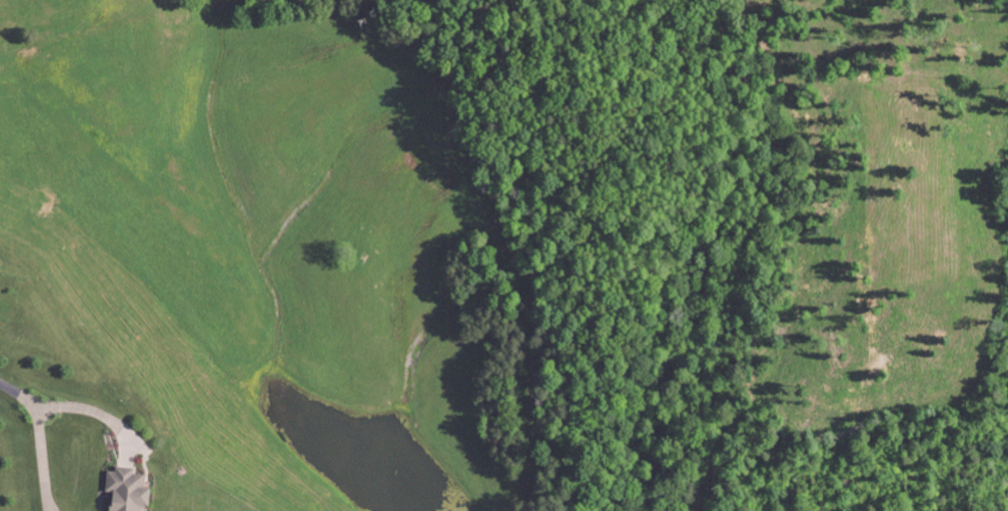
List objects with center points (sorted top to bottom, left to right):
building: (133, 488)

